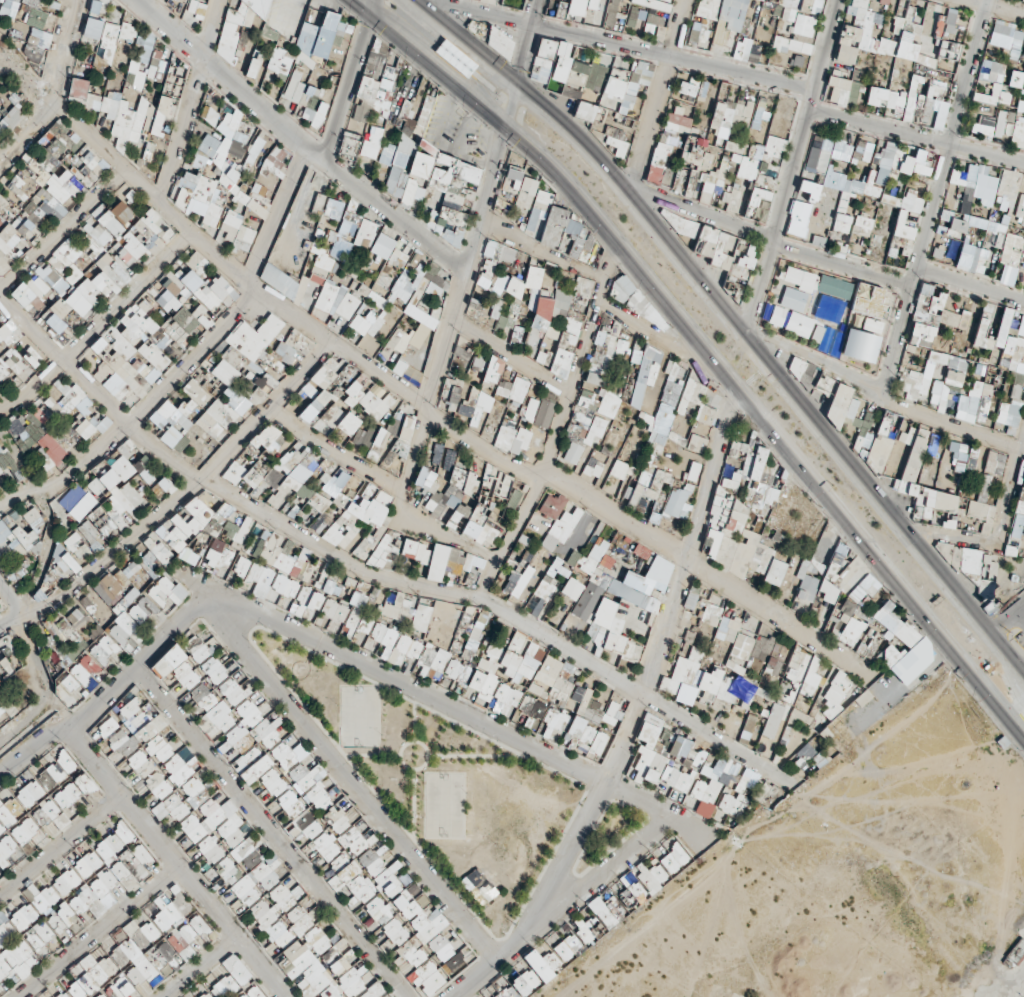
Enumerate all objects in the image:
parking lot: (1015, 614)
park: (360, 715)
park: (441, 782)
park: (445, 805)

